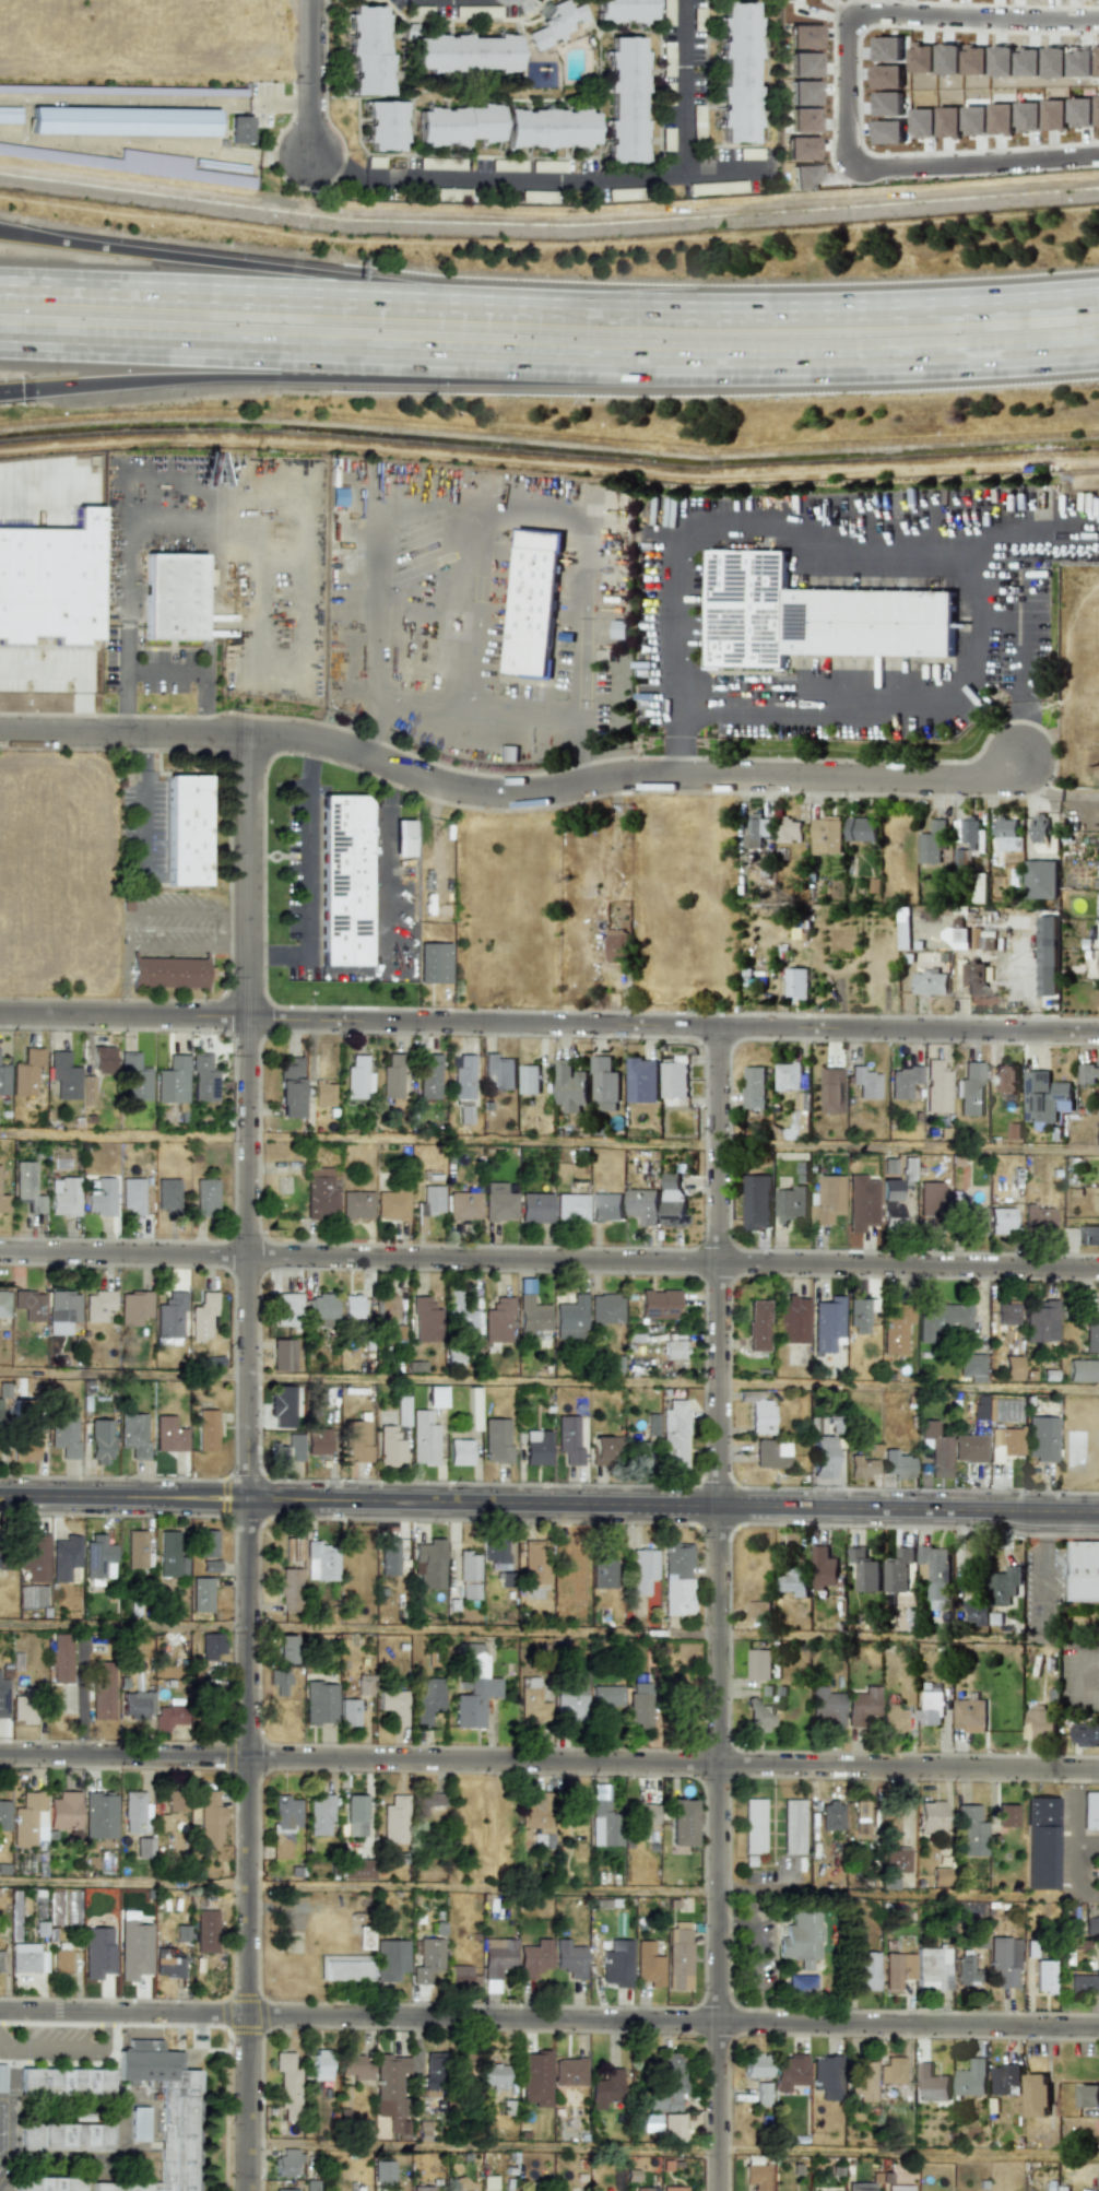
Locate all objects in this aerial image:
building: (625, 10)
building: (556, 24)
building: (368, 50)
building: (464, 52)
building: (738, 71)
road: (309, 76)
road: (844, 96)
building: (626, 101)
building: (10, 114)
building: (123, 119)
building: (458, 125)
building: (385, 126)
building: (549, 128)
building: (239, 129)
road: (684, 129)
building: (121, 162)
road: (494, 180)
road: (240, 268)
road: (239, 294)
road: (790, 306)
road: (549, 368)
road: (369, 379)
road: (10, 391)
road: (548, 463)
building: (338, 496)
road: (17, 500)
road: (822, 544)
road: (383, 551)
road: (582, 566)
building: (50, 580)
building: (173, 598)
building: (533, 603)
road: (478, 610)
building: (813, 615)
road: (127, 649)
road: (40, 667)
road: (166, 667)
road: (84, 698)
road: (377, 708)
road: (474, 710)
road: (846, 714)
road: (334, 727)
road: (576, 729)
road: (369, 739)
road: (143, 742)
road: (1024, 746)
building: (508, 753)
road: (312, 756)
road: (675, 756)
road: (584, 766)
road: (355, 770)
road: (509, 791)
road: (143, 817)
building: (187, 829)
building: (789, 829)
building: (861, 829)
building: (757, 831)
building: (966, 832)
building: (1040, 833)
building: (826, 835)
building: (1007, 835)
building: (401, 838)
building: (932, 843)
building: (962, 859)
building: (343, 880)
building: (1041, 880)
road: (307, 885)
building: (978, 888)
building: (127, 906)
road: (179, 908)
road: (134, 911)
road: (217, 929)
road: (126, 931)
building: (616, 945)
road: (170, 949)
road: (232, 950)
road: (256, 956)
building: (1047, 956)
building: (931, 958)
building: (434, 963)
road: (125, 971)
building: (170, 971)
building: (974, 978)
building: (930, 982)
building: (1047, 982)
building: (795, 985)
road: (125, 1004)
road: (548, 1023)
building: (102, 1059)
building: (26, 1072)
building: (1088, 1073)
building: (63, 1075)
building: (428, 1075)
building: (134, 1076)
building: (392, 1076)
building: (462, 1076)
building: (788, 1076)
building: (1005, 1077)
building: (3, 1079)
building: (203, 1079)
building: (357, 1079)
building: (529, 1079)
building: (674, 1079)
building: (173, 1080)
building: (642, 1080)
building: (865, 1082)
building: (902, 1082)
building: (604, 1084)
building: (935, 1085)
building: (570, 1087)
building: (754, 1087)
building: (289, 1088)
building: (830, 1089)
building: (969, 1089)
building: (87, 1091)
building: (322, 1094)
building: (1045, 1097)
building: (464, 1115)
building: (1098, 1136)
road: (549, 1141)
building: (26, 1187)
building: (320, 1193)
building: (167, 1194)
building: (64, 1195)
building: (99, 1195)
building: (132, 1195)
building: (204, 1195)
building: (827, 1199)
building: (889, 1199)
building: (930, 1199)
building: (430, 1200)
building: (672, 1201)
building: (498, 1202)
building: (756, 1202)
building: (392, 1203)
building: (356, 1204)
building: (791, 1204)
building: (463, 1205)
building: (642, 1205)
building: (570, 1206)
building: (606, 1206)
building: (534, 1208)
building: (1038, 1218)
building: (973, 1220)
building: (1001, 1221)
building: (1089, 1236)
road: (549, 1258)
building: (3, 1304)
building: (28, 1304)
building: (658, 1304)
building: (97, 1305)
building: (352, 1306)
building: (63, 1307)
building: (134, 1307)
building: (386, 1307)
building: (322, 1308)
building: (605, 1308)
building: (1098, 1308)
building: (286, 1309)
building: (1006, 1312)
building: (570, 1314)
building: (457, 1315)
building: (169, 1316)
building: (858, 1316)
building: (203, 1317)
building: (532, 1317)
building: (942, 1319)
building: (425, 1320)
building: (498, 1320)
building: (791, 1320)
building: (1040, 1321)
building: (827, 1324)
building: (757, 1326)
building: (896, 1329)
building: (1091, 1338)
building: (674, 1346)
building: (283, 1355)
building: (1098, 1365)
building: (971, 1367)
building: (1012, 1368)
building: (1083, 1370)
road: (549, 1379)
building: (436, 1397)
building: (284, 1404)
building: (979, 1406)
building: (1007, 1410)
building: (402, 1411)
building: (758, 1412)
building: (206, 1430)
building: (63, 1434)
building: (673, 1434)
building: (133, 1435)
building: (168, 1435)
building: (424, 1438)
building: (1041, 1438)
building: (569, 1439)
building: (356, 1440)
building: (497, 1440)
building: (99, 1441)
building: (318, 1441)
building: (1005, 1444)
building: (390, 1446)
building: (296, 1447)
building: (536, 1448)
building: (604, 1448)
building: (969, 1448)
building: (936, 1449)
building: (24, 1451)
building: (460, 1452)
building: (641, 1452)
building: (770, 1453)
building: (277, 1454)
building: (822, 1456)
road: (247, 1462)
building: (897, 1464)
building: (862, 1466)
road: (549, 1503)
building: (204, 1543)
building: (135, 1548)
building: (292, 1548)
building: (495, 1551)
building: (170, 1555)
building: (388, 1556)
building: (34, 1557)
building: (64, 1557)
building: (98, 1557)
building: (320, 1560)
building: (534, 1562)
building: (428, 1564)
building: (210, 1566)
building: (823, 1568)
building: (863, 1569)
road: (1045, 1569)
building: (603, 1570)
building: (642, 1570)
building: (897, 1570)
building: (1084, 1570)
building: (935, 1575)
building: (469, 1576)
building: (677, 1578)
building: (793, 1581)
building: (1004, 1586)
building: (288, 1590)
building: (201, 1594)
building: (33, 1597)
road: (719, 1607)
building: (758, 1610)
building: (977, 1612)
road: (549, 1632)
building: (211, 1645)
building: (285, 1649)
building: (61, 1658)
building: (758, 1664)
road: (1084, 1670)
building: (279, 1681)
building: (363, 1685)
building: (473, 1688)
building: (103, 1691)
building: (605, 1696)
building: (427, 1698)
building: (531, 1700)
building: (570, 1701)
building: (320, 1703)
building: (138, 1704)
building: (393, 1705)
building: (639, 1705)
building: (209, 1706)
building: (827, 1706)
building: (862, 1706)
building: (22, 1709)
building: (930, 1709)
building: (348, 1712)
building: (759, 1715)
building: (969, 1715)
building: (169, 1716)
building: (894, 1719)
building: (1040, 1722)
building: (1085, 1733)
road: (549, 1760)
building: (175, 1802)
building: (425, 1802)
building: (578, 1810)
building: (64, 1811)
building: (1090, 1811)
building: (133, 1812)
building: (861, 1812)
building: (643, 1813)
building: (3, 1814)
building: (99, 1815)
building: (319, 1815)
building: (355, 1815)
building: (1005, 1815)
building: (831, 1816)
building: (930, 1816)
building: (209, 1818)
building: (29, 1819)
building: (536, 1819)
building: (393, 1821)
building: (681, 1822)
building: (603, 1823)
building: (283, 1824)
building: (753, 1825)
building: (792, 1827)
building: (970, 1829)
road: (1077, 1831)
building: (1040, 1842)
road: (1088, 1845)
building: (144, 1847)
building: (896, 1860)
building: (106, 1862)
building: (357, 1869)
building: (940, 1876)
road: (548, 1889)
building: (71, 1907)
building: (1090, 1924)
building: (206, 1931)
building: (181, 1933)
building: (365, 1937)
building: (801, 1937)
building: (133, 1949)
building: (678, 1955)
building: (24, 1957)
building: (497, 1957)
building: (568, 1957)
building: (534, 1958)
building: (390, 1959)
building: (61, 1960)
building: (428, 1960)
building: (1004, 1960)
building: (1098, 1960)
building: (167, 1963)
building: (617, 1964)
building: (648, 1964)
building: (344, 1968)
building: (898, 1968)
building: (933, 1969)
building: (867, 1972)
building: (459, 1975)
building: (1043, 1976)
building: (802, 1983)
building: (1084, 1984)
road: (549, 2016)
road: (107, 2028)
road: (54, 2045)
building: (357, 2065)
building: (756, 2065)
building: (322, 2066)
building: (891, 2071)
building: (569, 2072)
building: (790, 2072)
building: (434, 2074)
building: (825, 2075)
building: (495, 2076)
building: (1, 2077)
building: (535, 2078)
building: (971, 2078)
building: (1005, 2078)
building: (862, 2080)
building: (64, 2082)
building: (931, 2084)
building: (287, 2085)
building: (669, 2086)
building: (606, 2089)
building: (391, 2093)
building: (761, 2094)
building: (1037, 2095)
building: (1088, 2095)
building: (164, 2115)
building: (651, 2122)
building: (138, 2123)
building: (672, 2127)
building: (64, 2137)
road: (673, 2148)
building: (286, 2163)
building: (383, 2171)
building: (755, 2176)
building: (48, 2183)
building: (861, 2187)
building: (424, 2188)
building: (897, 2188)
building: (646, 2189)
building: (674, 2189)
building: (285, 2190)

